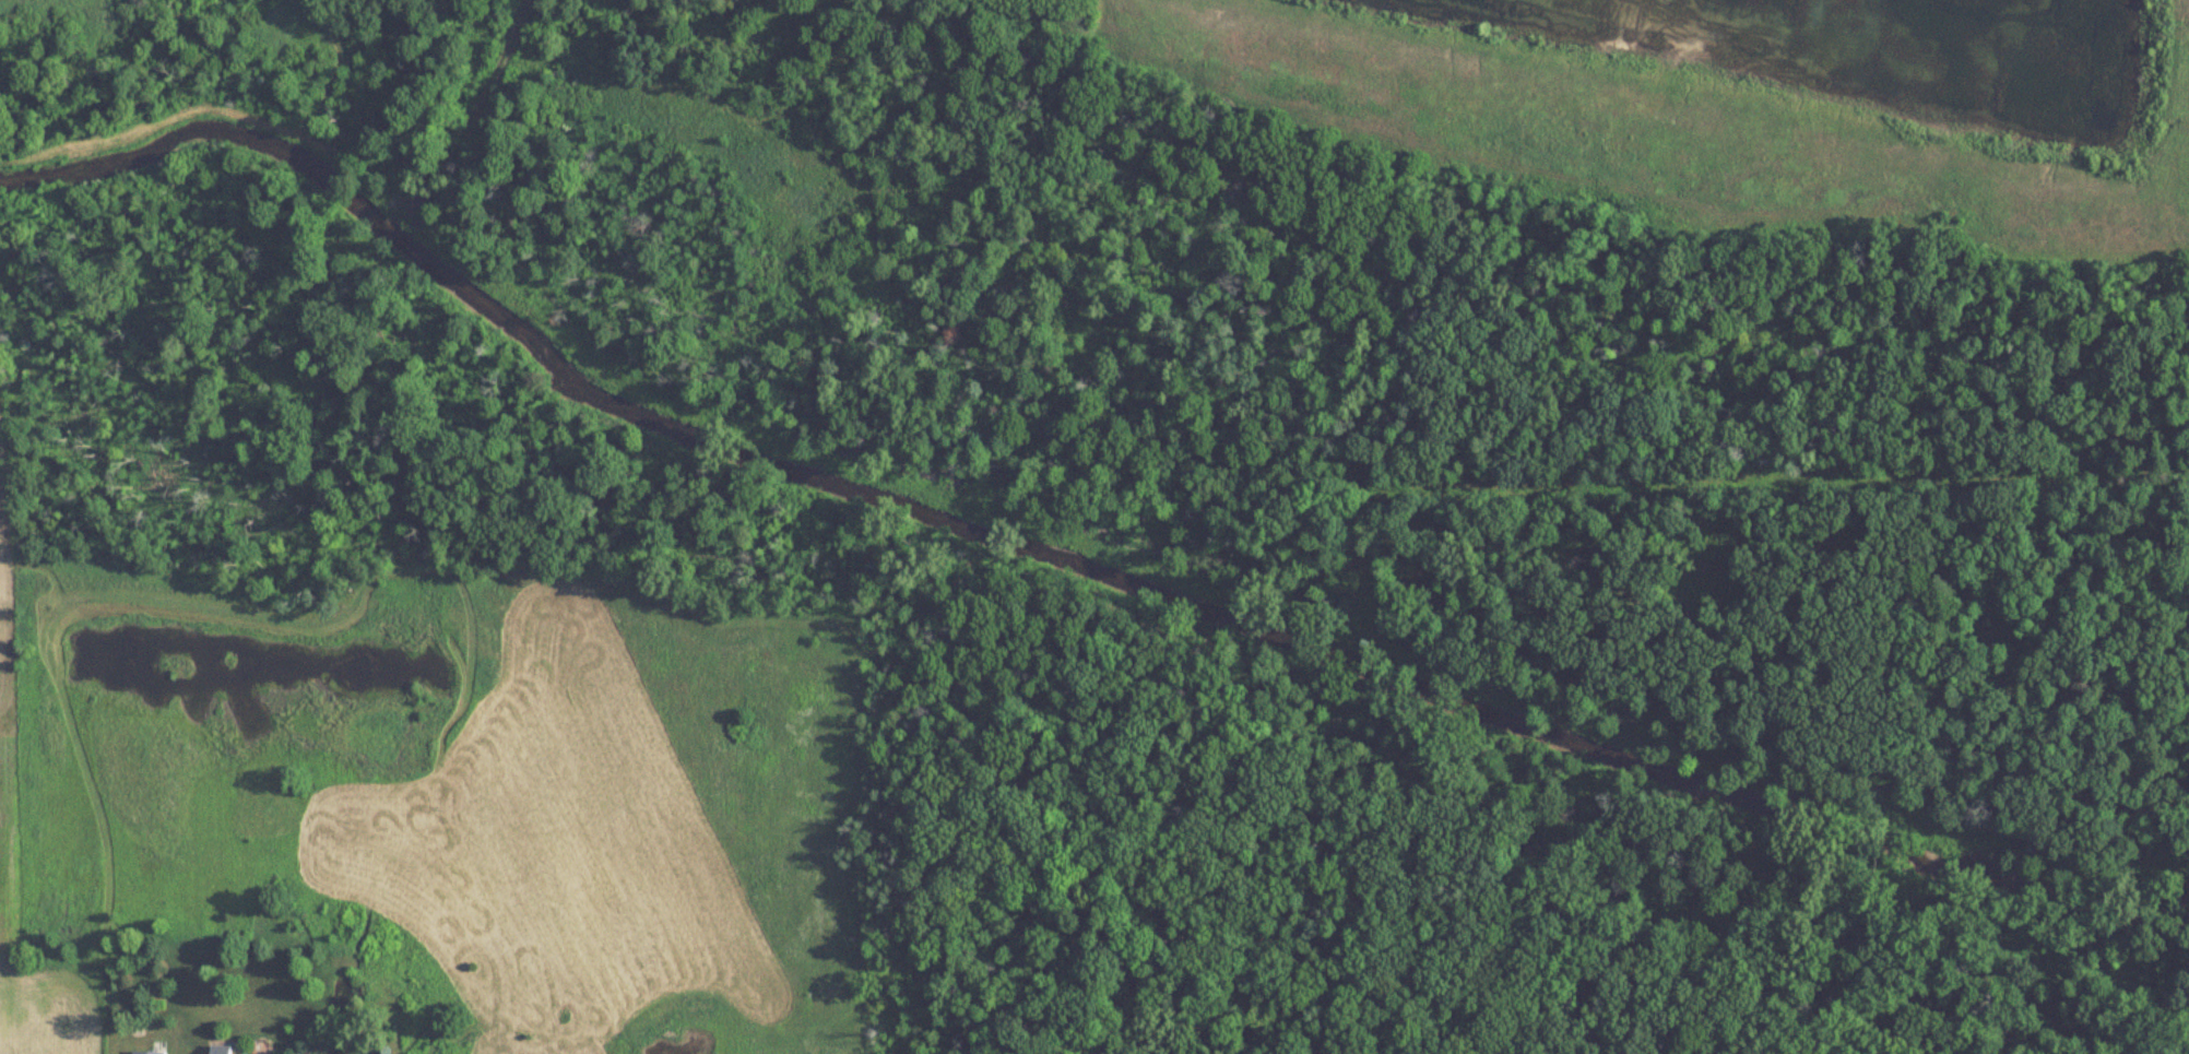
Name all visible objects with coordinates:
river: (1061, 562)
crop: (5, 748)
building: (222, 1049)
building: (147, 1052)

